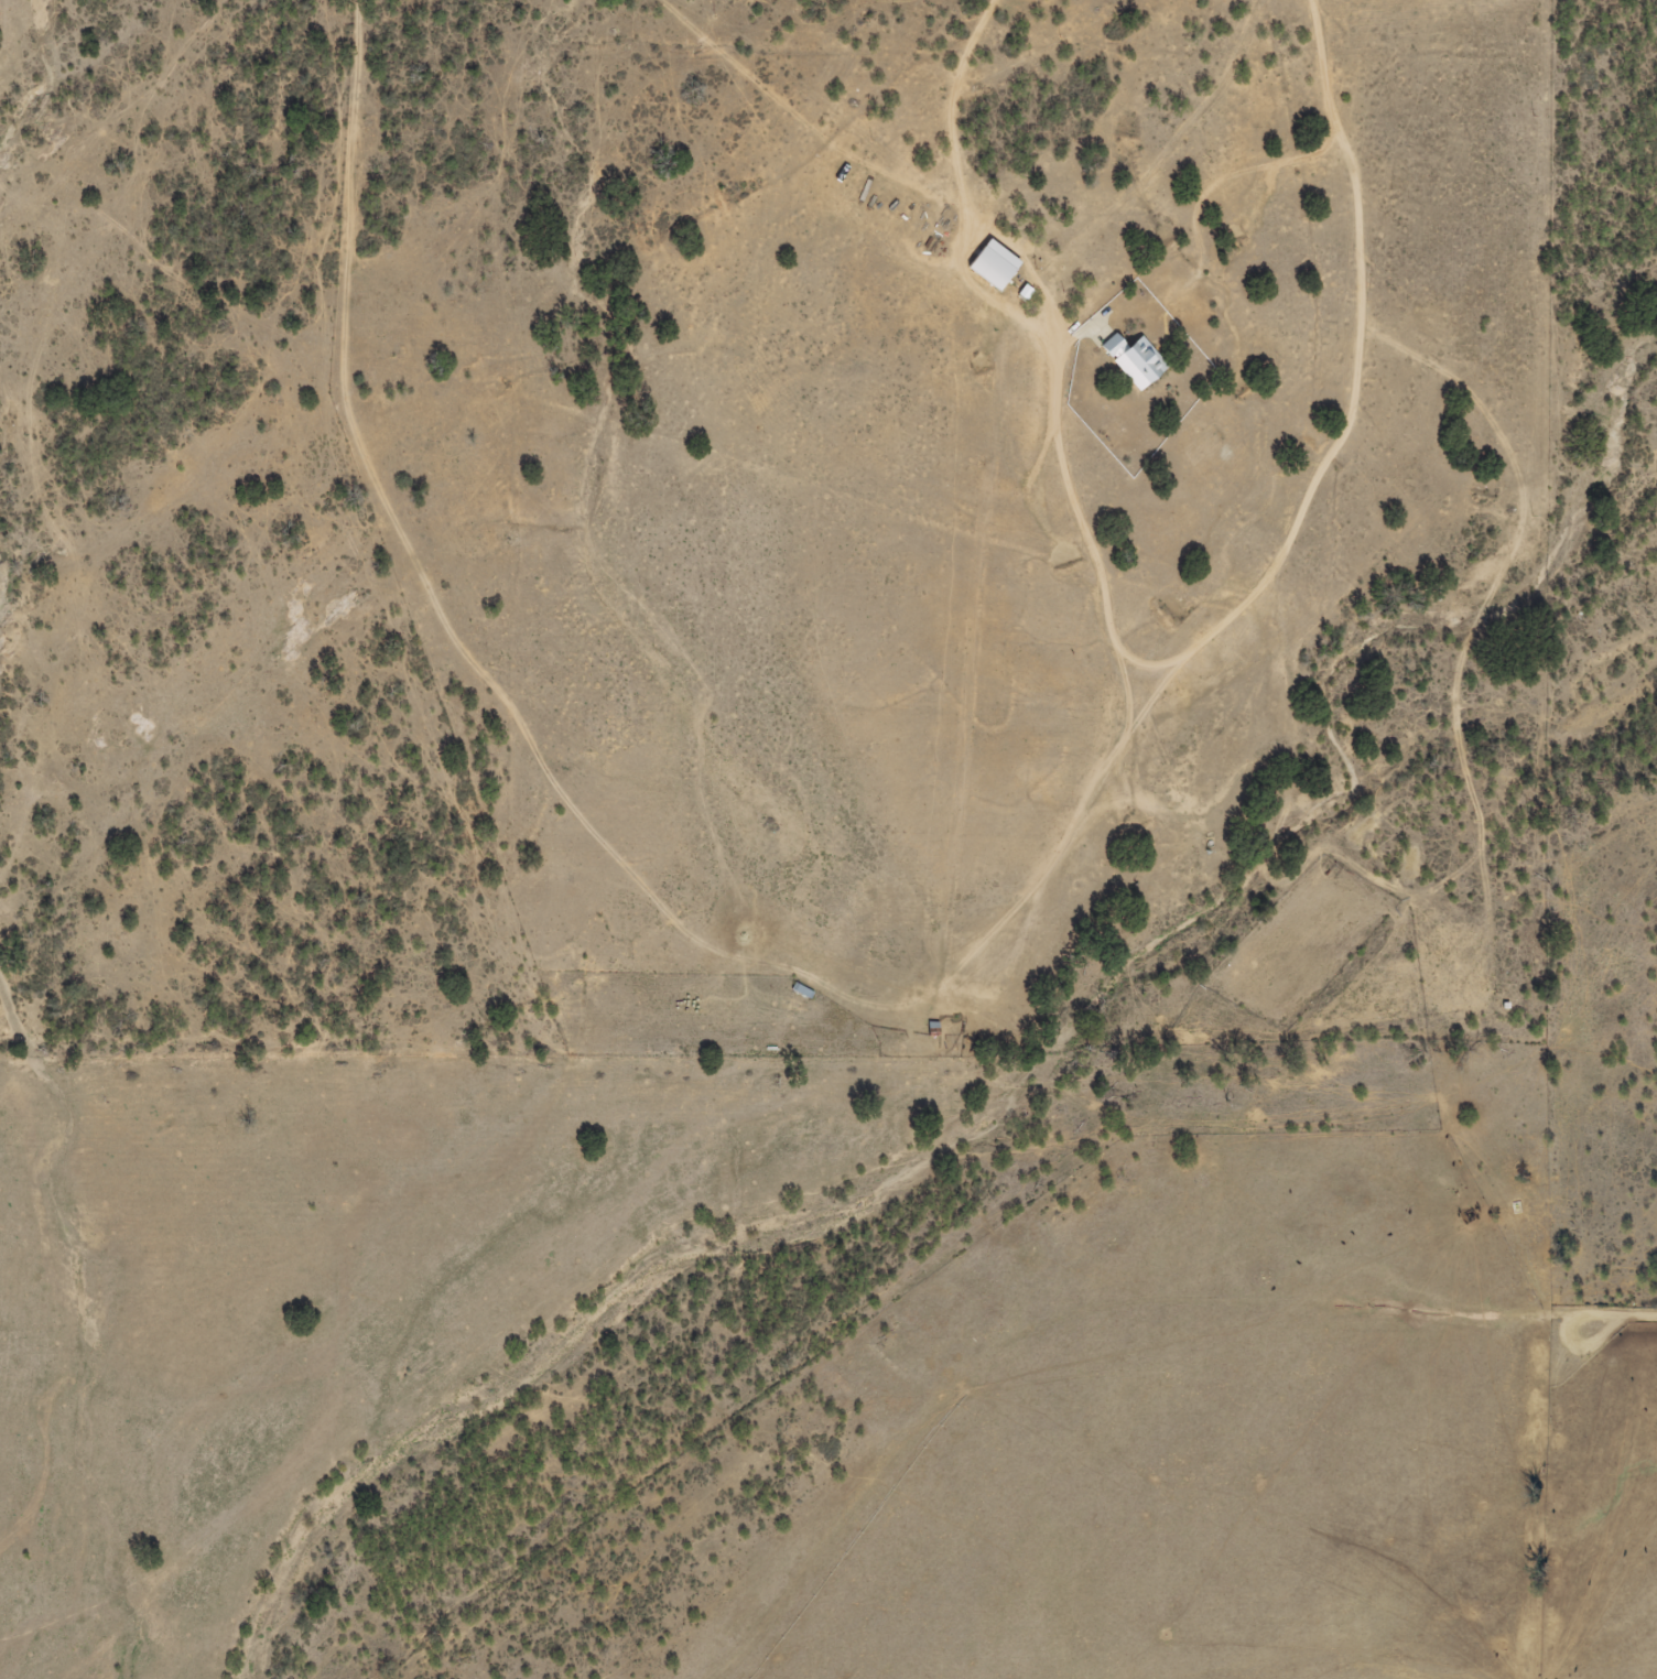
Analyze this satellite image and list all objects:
road: (1279, 213)
building: (998, 266)
building: (1138, 361)

